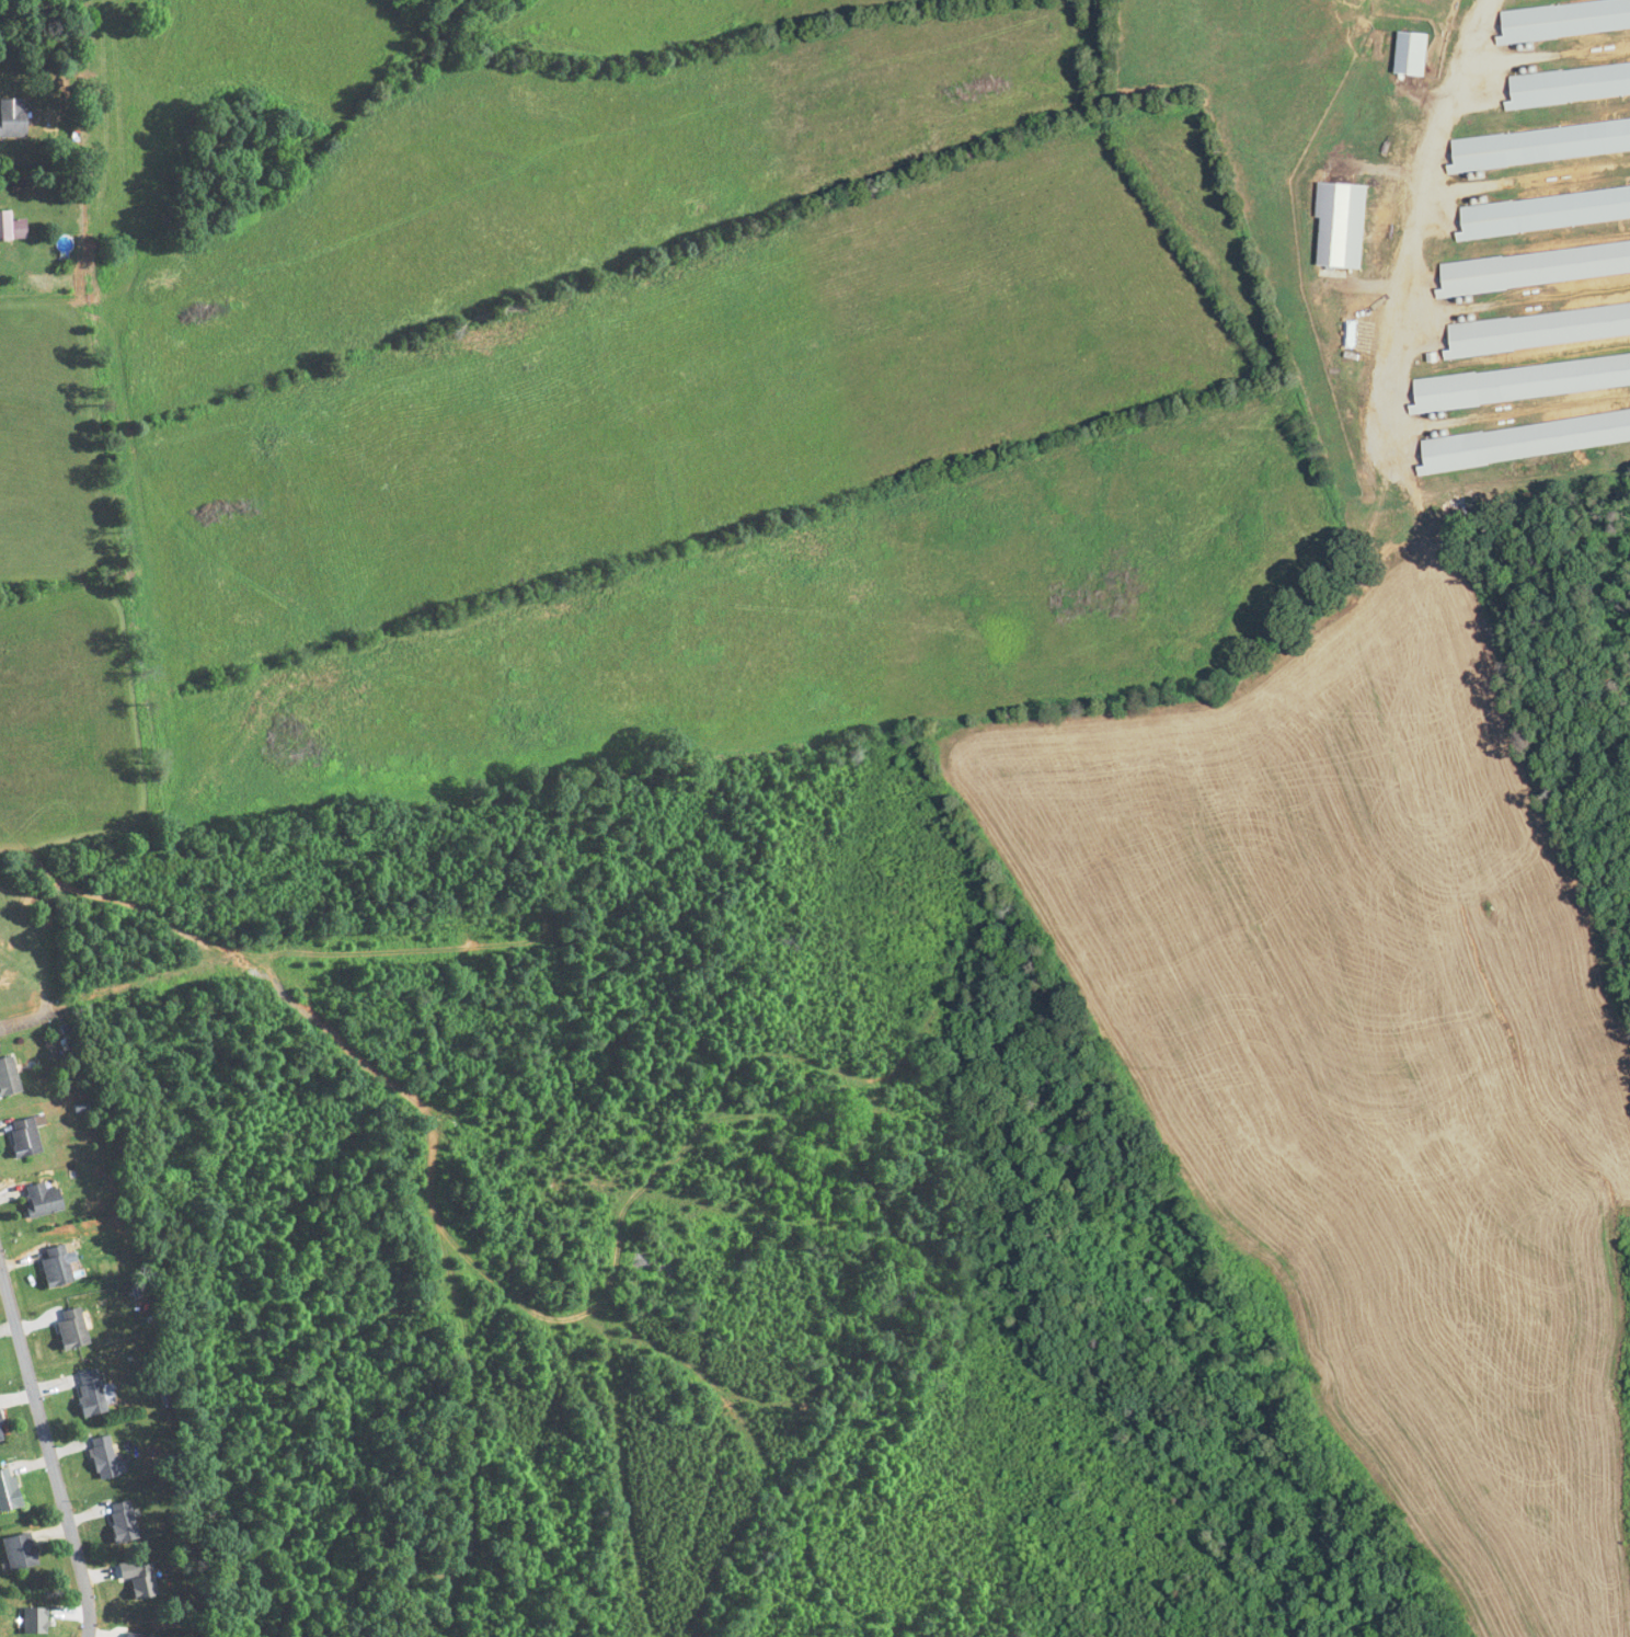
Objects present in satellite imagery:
building: (1565, 18)
building: (1413, 54)
building: (1571, 83)
building: (13, 118)
building: (1541, 144)
road: (1423, 199)
building: (1546, 211)
building: (12, 228)
road: (34, 1018)
building: (9, 1076)
building: (25, 1136)
building: (42, 1199)
building: (56, 1266)
building: (71, 1328)
building: (90, 1392)
building: (1, 1433)
road: (48, 1451)
building: (103, 1457)
building: (9, 1490)
building: (123, 1521)
building: (20, 1552)

